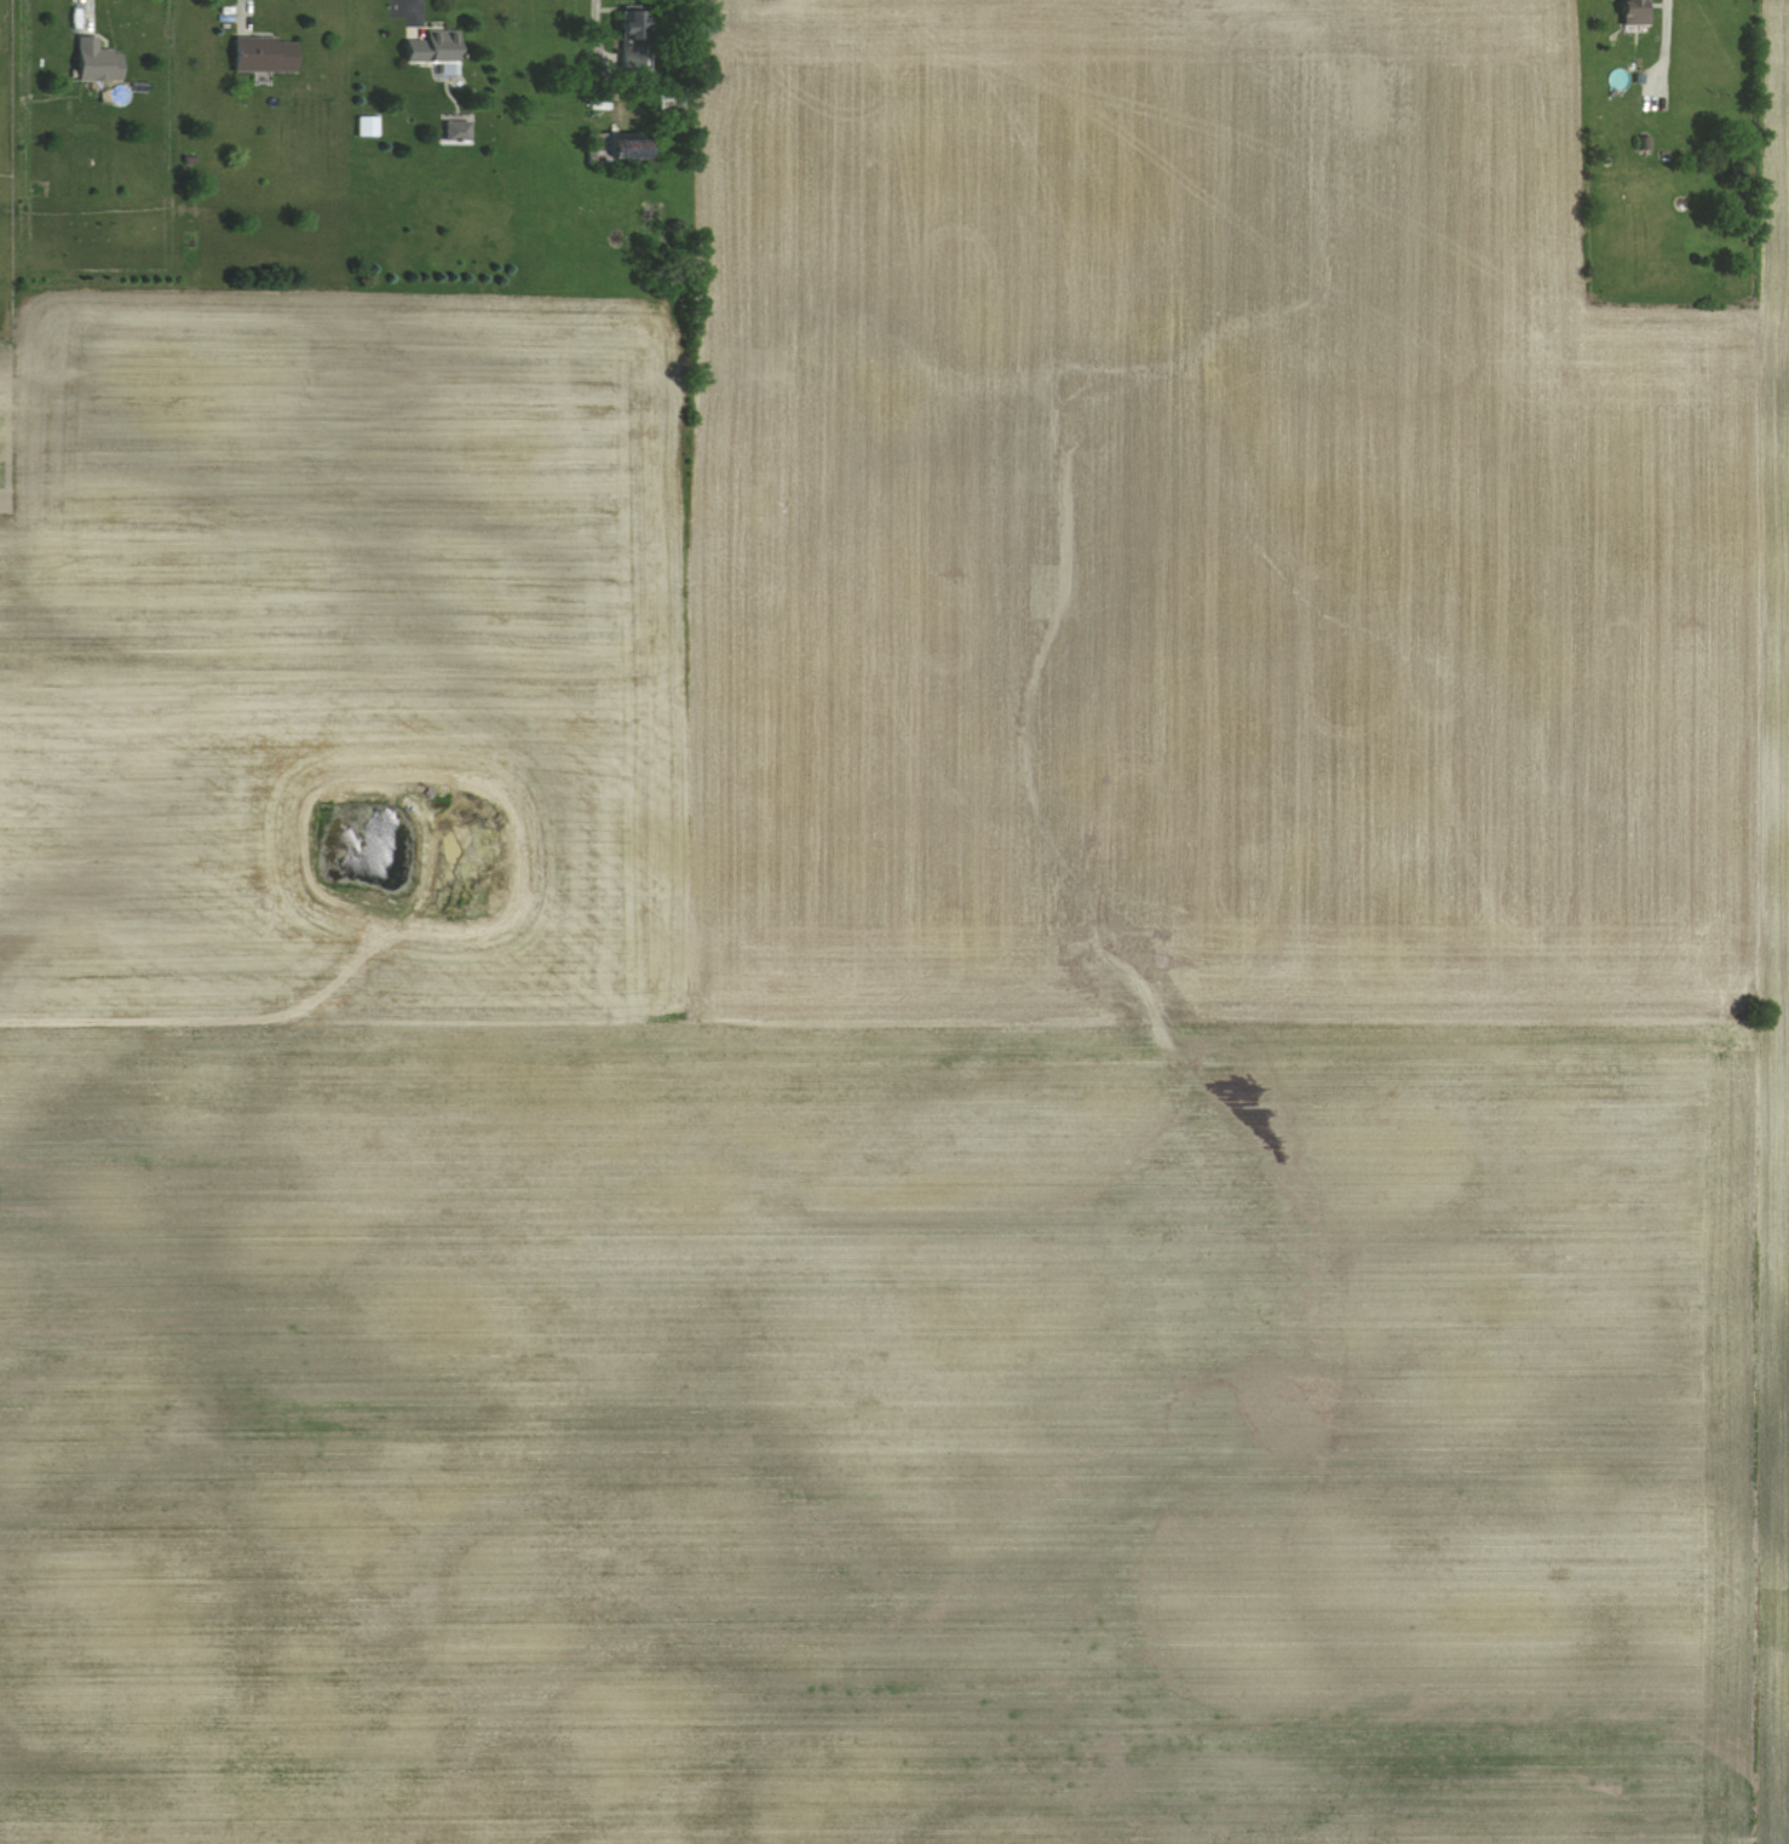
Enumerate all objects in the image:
building: (1634, 12)
building: (633, 40)
building: (431, 45)
building: (265, 54)
building: (97, 61)
building: (367, 126)
building: (616, 150)

